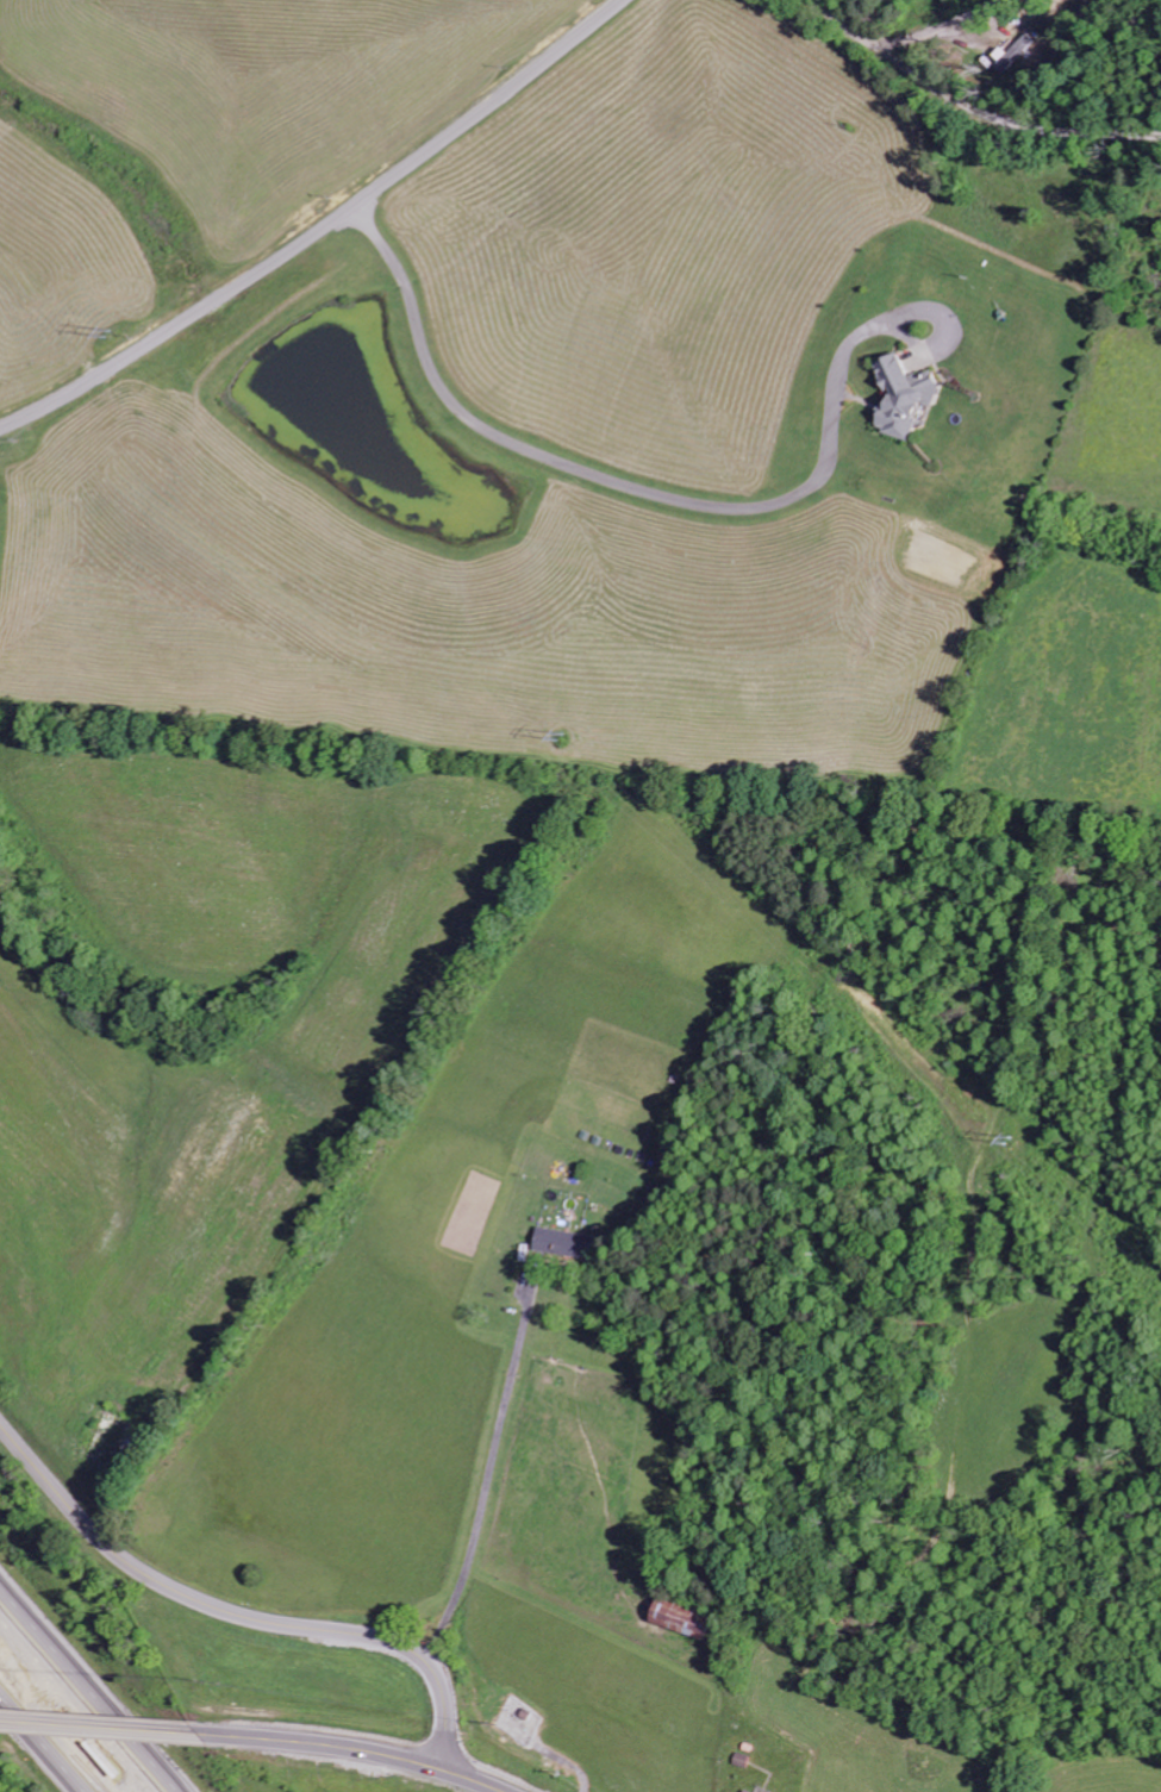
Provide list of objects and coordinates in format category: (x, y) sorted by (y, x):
building: (1012, 52)
road: (323, 231)
building: (900, 394)
building: (558, 1242)
road: (238, 1613)
building: (681, 1618)
road: (82, 1696)
road: (101, 1725)
road: (48, 1736)
road: (355, 1750)

